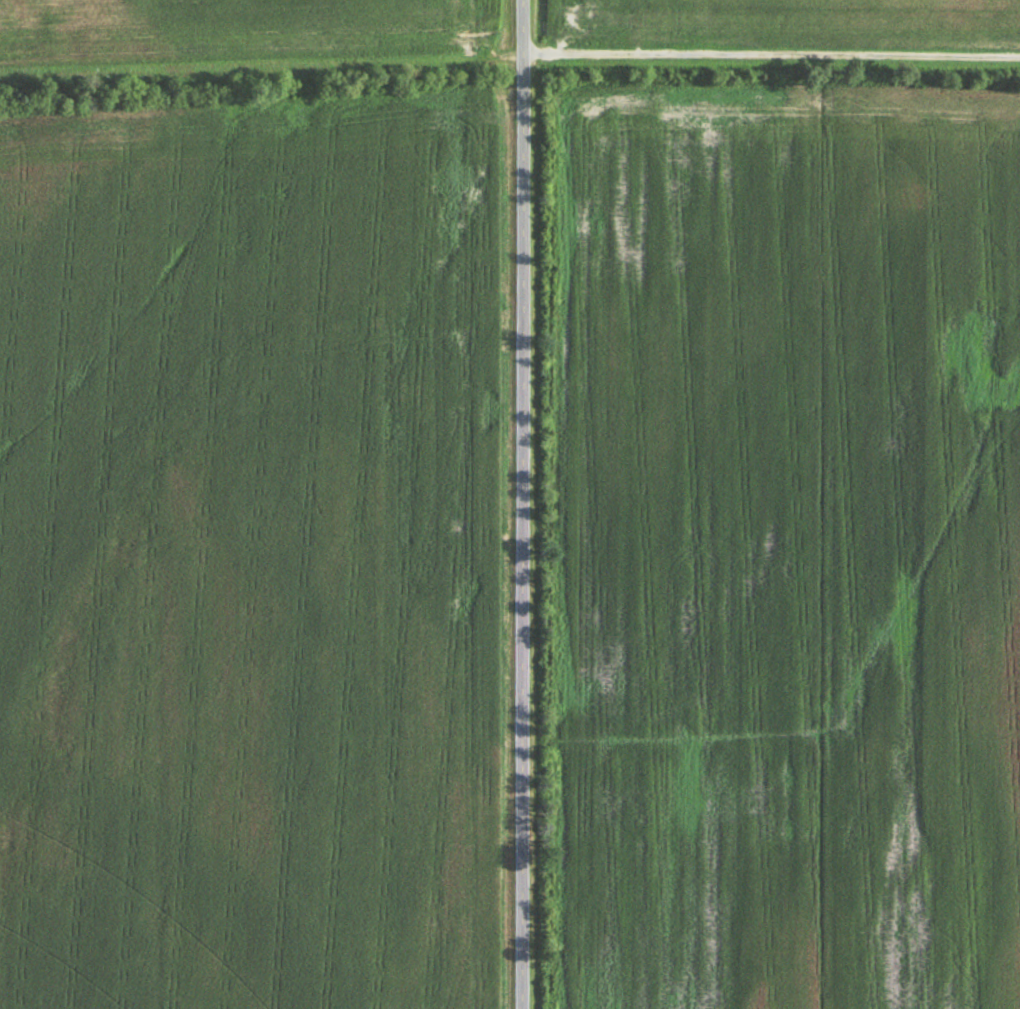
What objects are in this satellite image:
road: (772, 48)
road: (524, 504)

